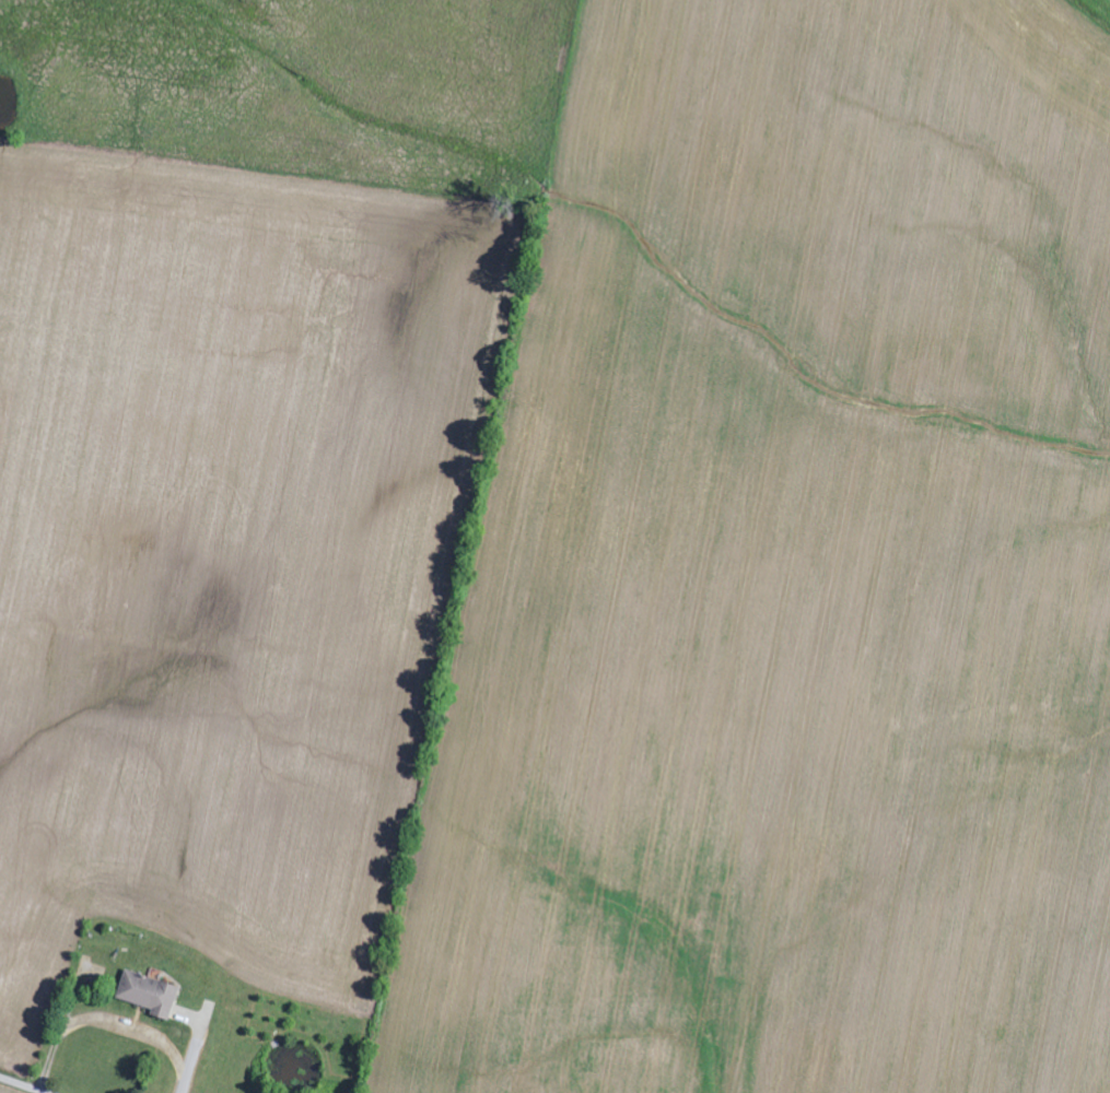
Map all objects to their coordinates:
building: (151, 994)
road: (20, 1085)

